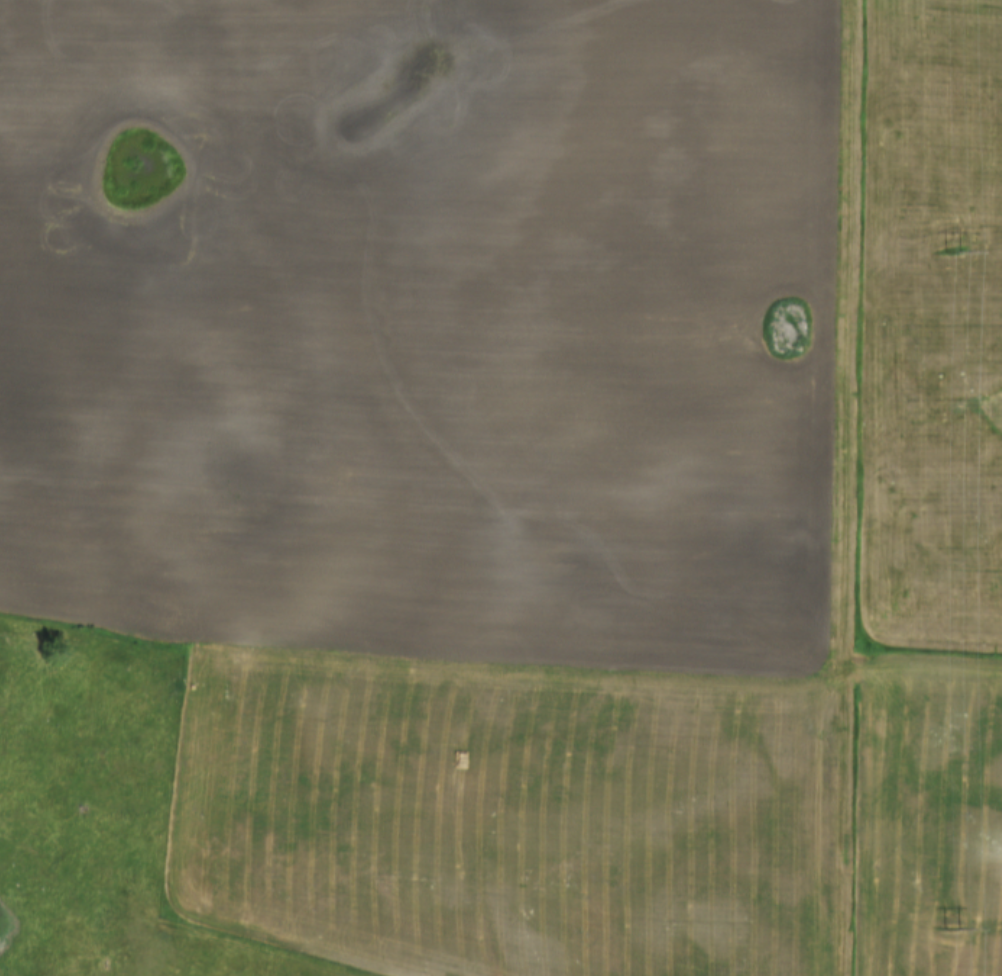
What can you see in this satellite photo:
power tower: (952, 250)
power tower: (947, 929)

